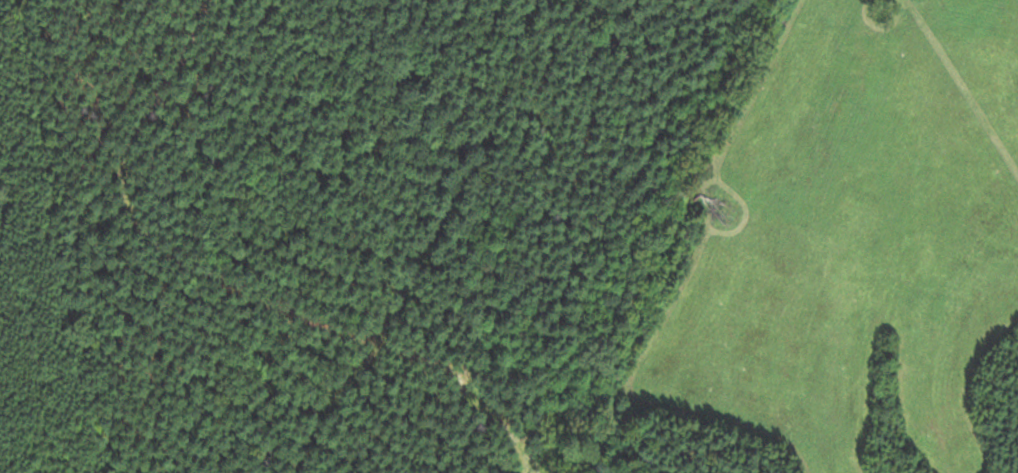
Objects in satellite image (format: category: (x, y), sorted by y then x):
road: (903, 24)

